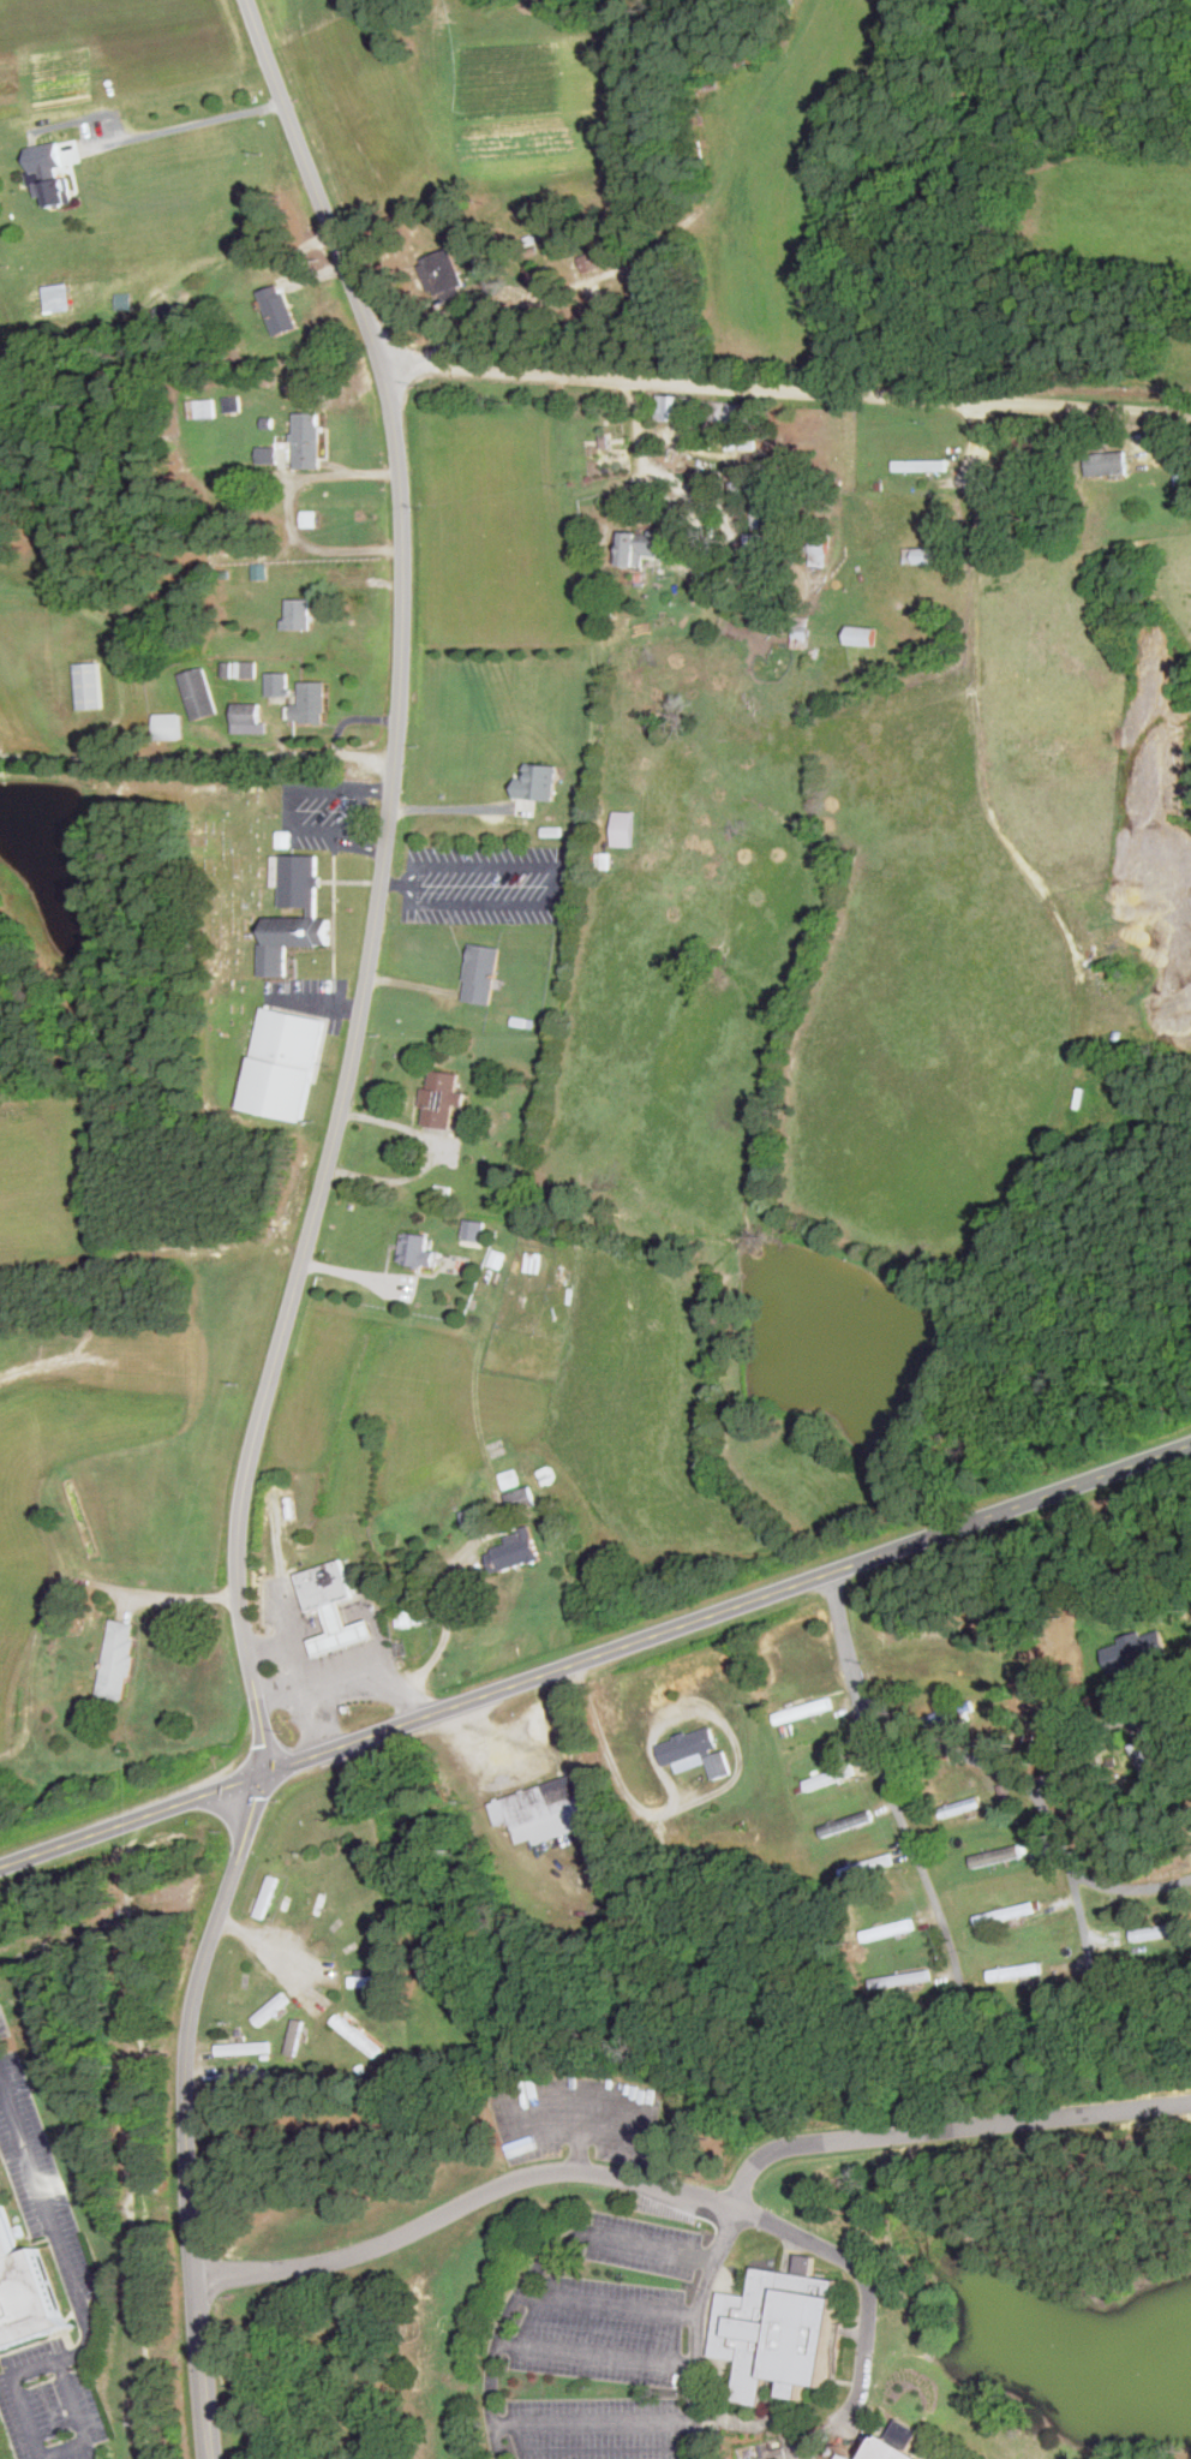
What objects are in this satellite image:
road: (187, 118)
building: (59, 190)
building: (595, 258)
building: (444, 273)
building: (280, 309)
road: (784, 388)
building: (201, 407)
building: (677, 407)
building: (729, 411)
building: (309, 438)
building: (1030, 438)
building: (1109, 462)
building: (921, 465)
building: (761, 487)
road: (289, 511)
building: (758, 545)
building: (819, 545)
building: (635, 547)
building: (922, 555)
building: (299, 613)
building: (801, 632)
building: (863, 635)
building: (245, 669)
building: (277, 684)
building: (89, 685)
building: (198, 693)
building: (311, 703)
building: (246, 717)
building: (168, 726)
road: (197, 756)
building: (539, 782)
road: (289, 802)
road: (451, 805)
parking lot: (325, 812)
building: (299, 882)
road: (351, 882)
road: (555, 882)
road: (395, 883)
parking lot: (484, 883)
building: (292, 939)
building: (483, 973)
parking lot: (310, 997)
road: (316, 1004)
building: (285, 1064)
building: (442, 1098)
road: (310, 1224)
building: (474, 1229)
building: (417, 1249)
building: (533, 1261)
building: (563, 1275)
building: (510, 1479)
building: (521, 1496)
building: (473, 1517)
building: (515, 1551)
building: (325, 1584)
road: (179, 1593)
building: (412, 1615)
road: (448, 1617)
road: (307, 1628)
building: (342, 1630)
gas station: (342, 1630)
road: (595, 1654)
building: (1139, 1654)
building: (119, 1660)
road: (299, 1663)
road: (387, 1667)
road: (321, 1679)
building: (804, 1711)
road: (1075, 1750)
building: (698, 1753)
building: (1151, 1759)
building: (830, 1777)
road: (885, 1779)
road: (1027, 1789)
building: (966, 1806)
building: (553, 1809)
building: (989, 1857)
building: (867, 1866)
road: (1129, 1890)
building: (267, 1896)
building: (300, 1896)
building: (1006, 1914)
building: (888, 1929)
building: (1161, 1932)
road: (250, 1939)
building: (1016, 1971)
building: (900, 1978)
building: (370, 1981)
building: (270, 2007)
building: (295, 2035)
building: (357, 2035)
building: (244, 2047)
building: (244, 2077)
road: (589, 2089)
parking lot: (575, 2118)
road: (947, 2126)
road: (599, 2173)
parking lot: (642, 2244)
road: (654, 2245)
road: (74, 2291)
building: (22, 2292)
road: (608, 2304)
road: (502, 2326)
road: (695, 2328)
building: (782, 2329)
parking lot: (602, 2330)
road: (852, 2332)
road: (595, 2353)
road: (848, 2381)
road: (717, 2407)
road: (774, 2417)
road: (79, 2421)
road: (593, 2422)
road: (714, 2423)
road: (754, 2425)
parking lot: (595, 2428)
road: (822, 2428)
road: (796, 2447)
building: (900, 2451)
building: (849, 2453)

